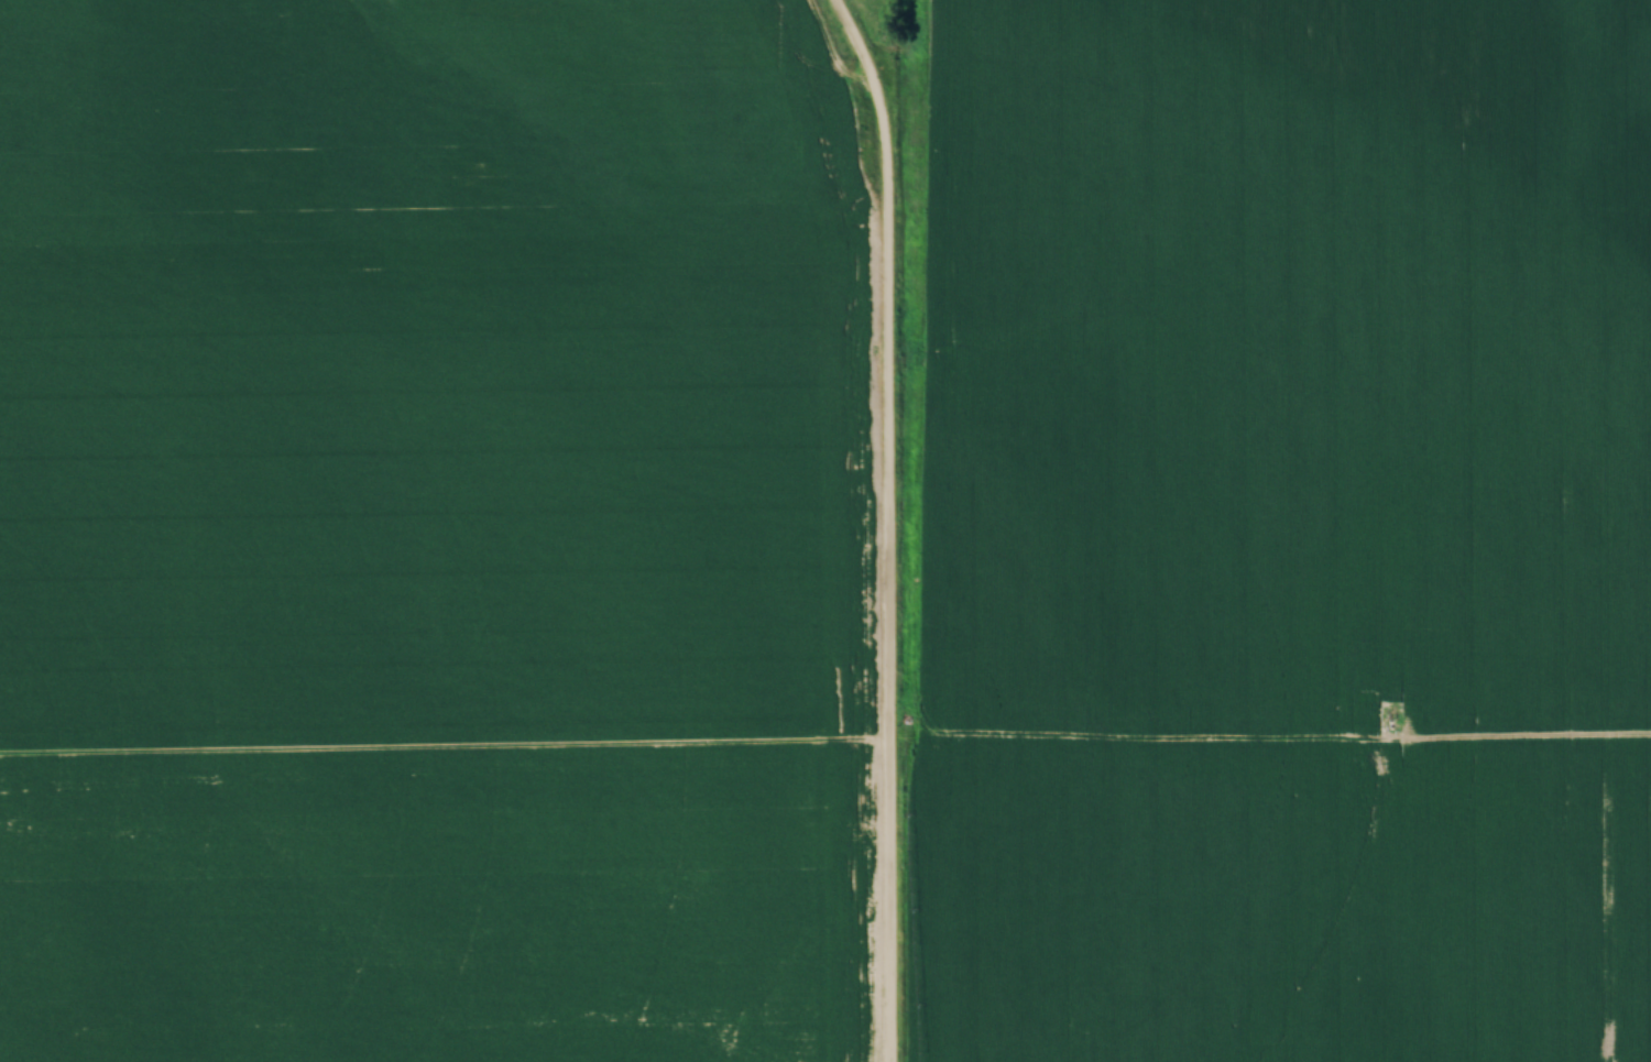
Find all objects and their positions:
road: (885, 525)

